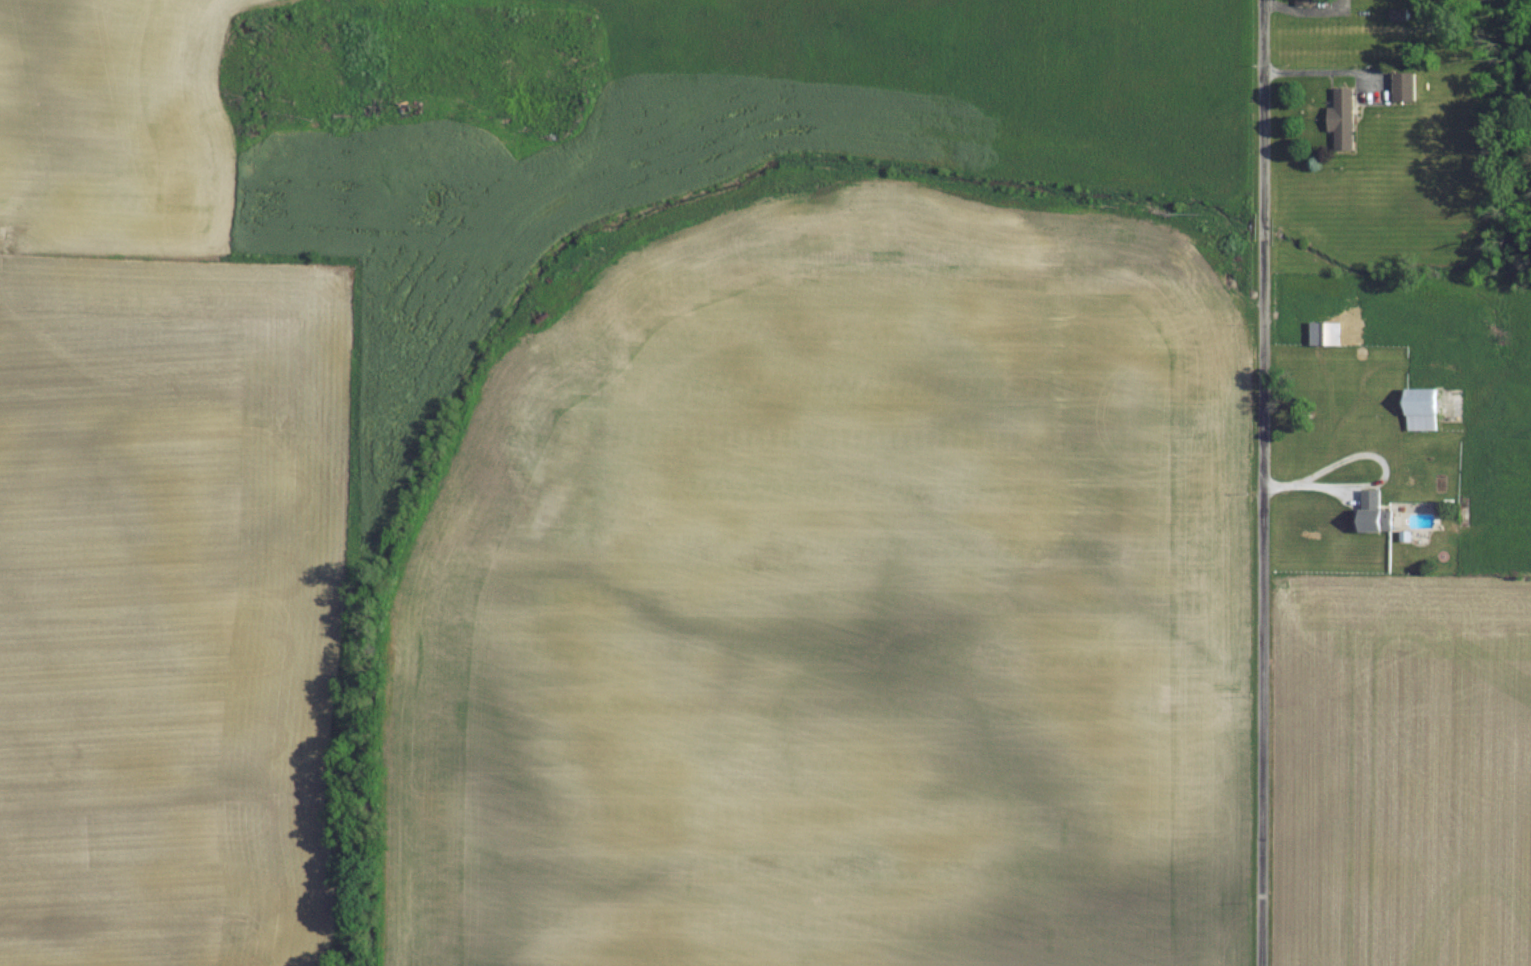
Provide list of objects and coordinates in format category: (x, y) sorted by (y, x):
building: (1309, 2)
building: (1399, 14)
building: (1406, 86)
building: (1346, 118)
building: (1320, 333)
building: (1425, 409)
road: (1262, 483)

